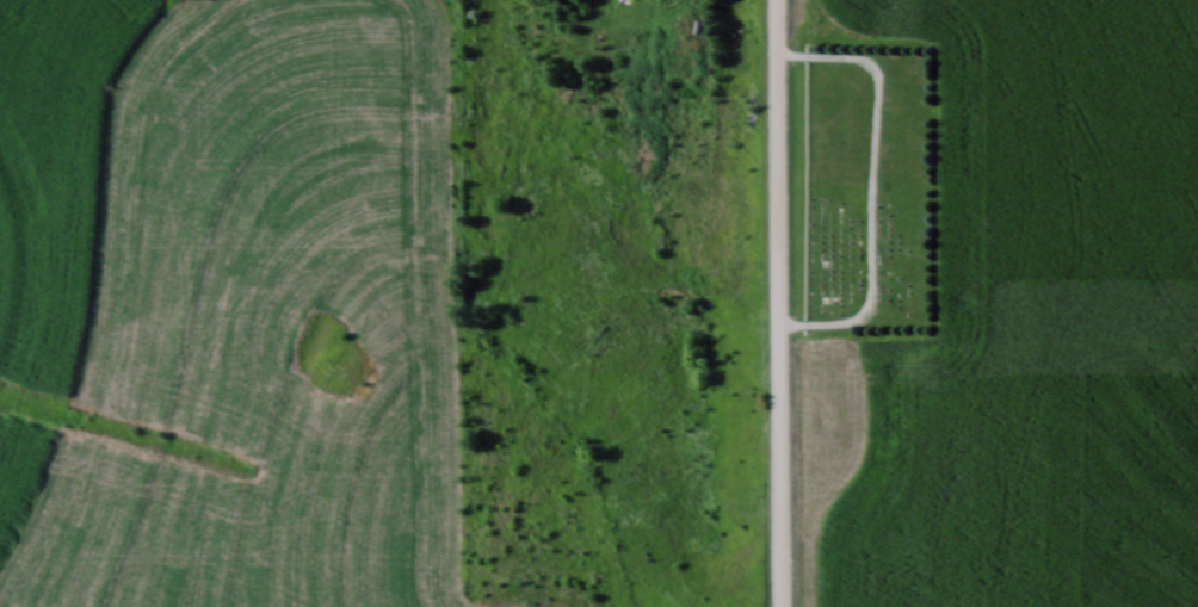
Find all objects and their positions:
building: (687, 132)
park: (864, 185)
road: (774, 303)

